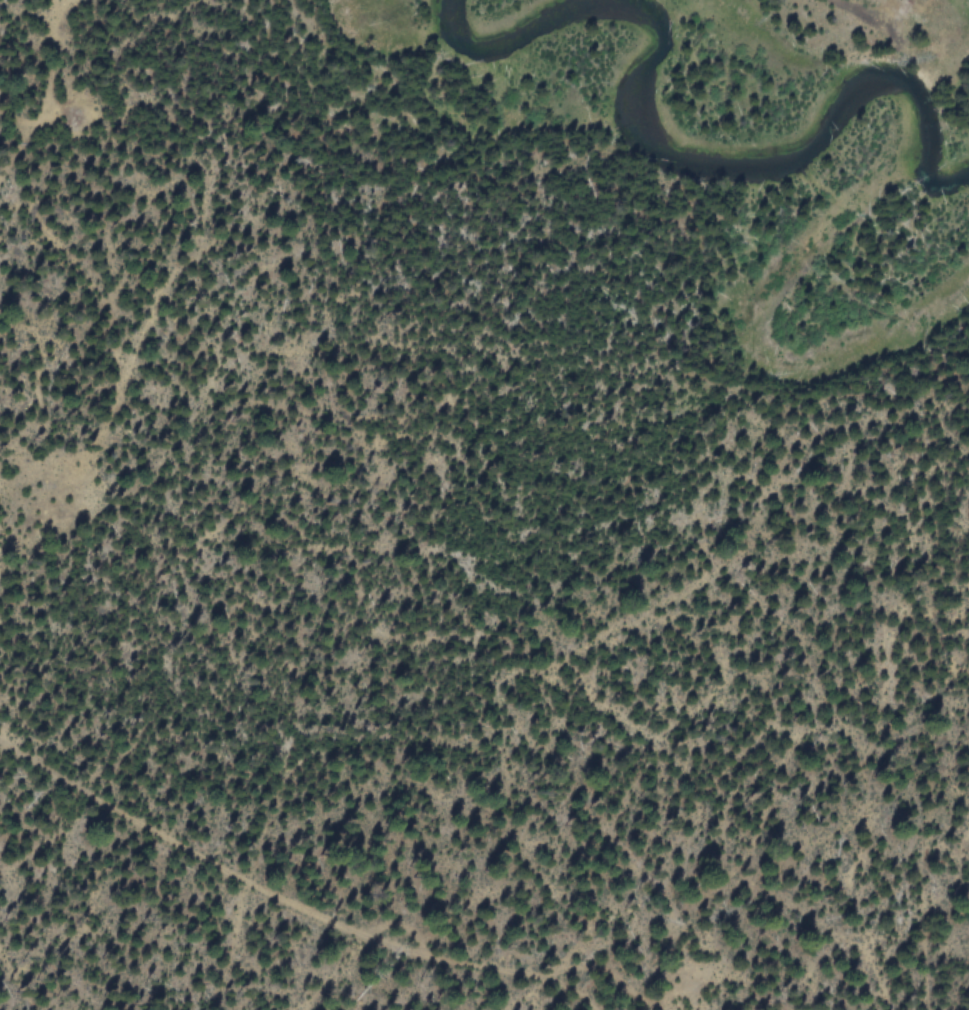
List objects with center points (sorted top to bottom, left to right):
river: (678, 166)
road: (290, 896)
road: (17, 980)

